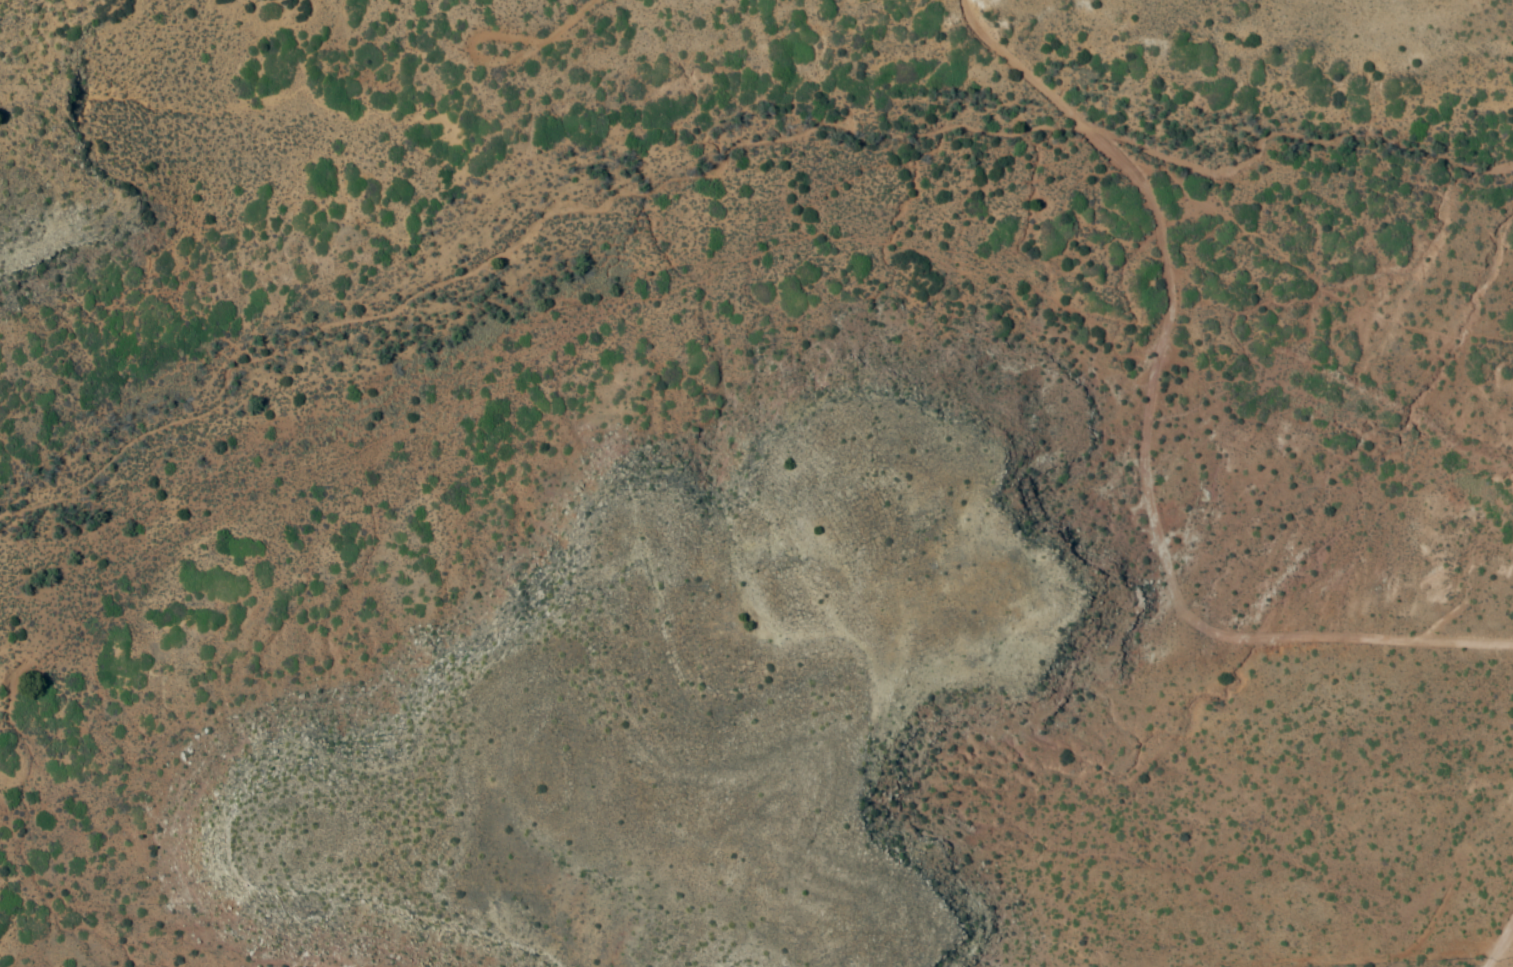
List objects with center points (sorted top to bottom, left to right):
road: (1115, 567)
building: (1338, 721)
road: (1499, 950)

